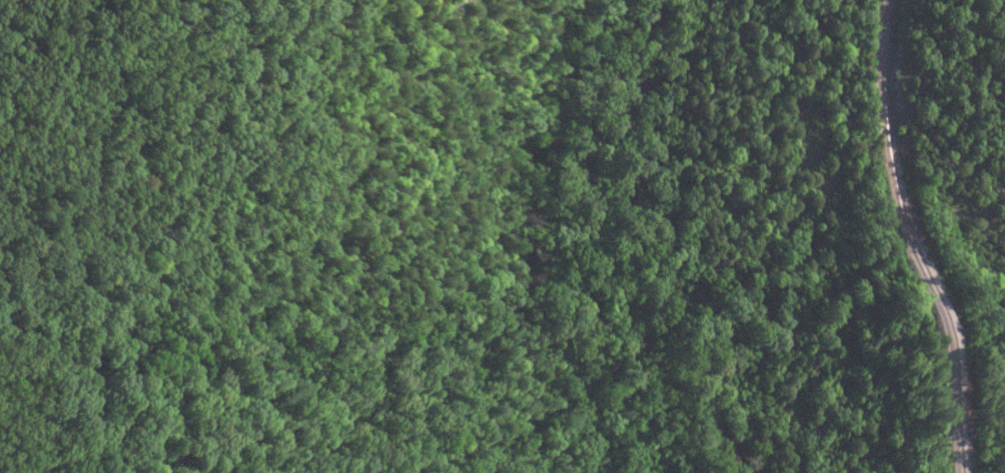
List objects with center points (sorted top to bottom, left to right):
railway: (893, 236)

